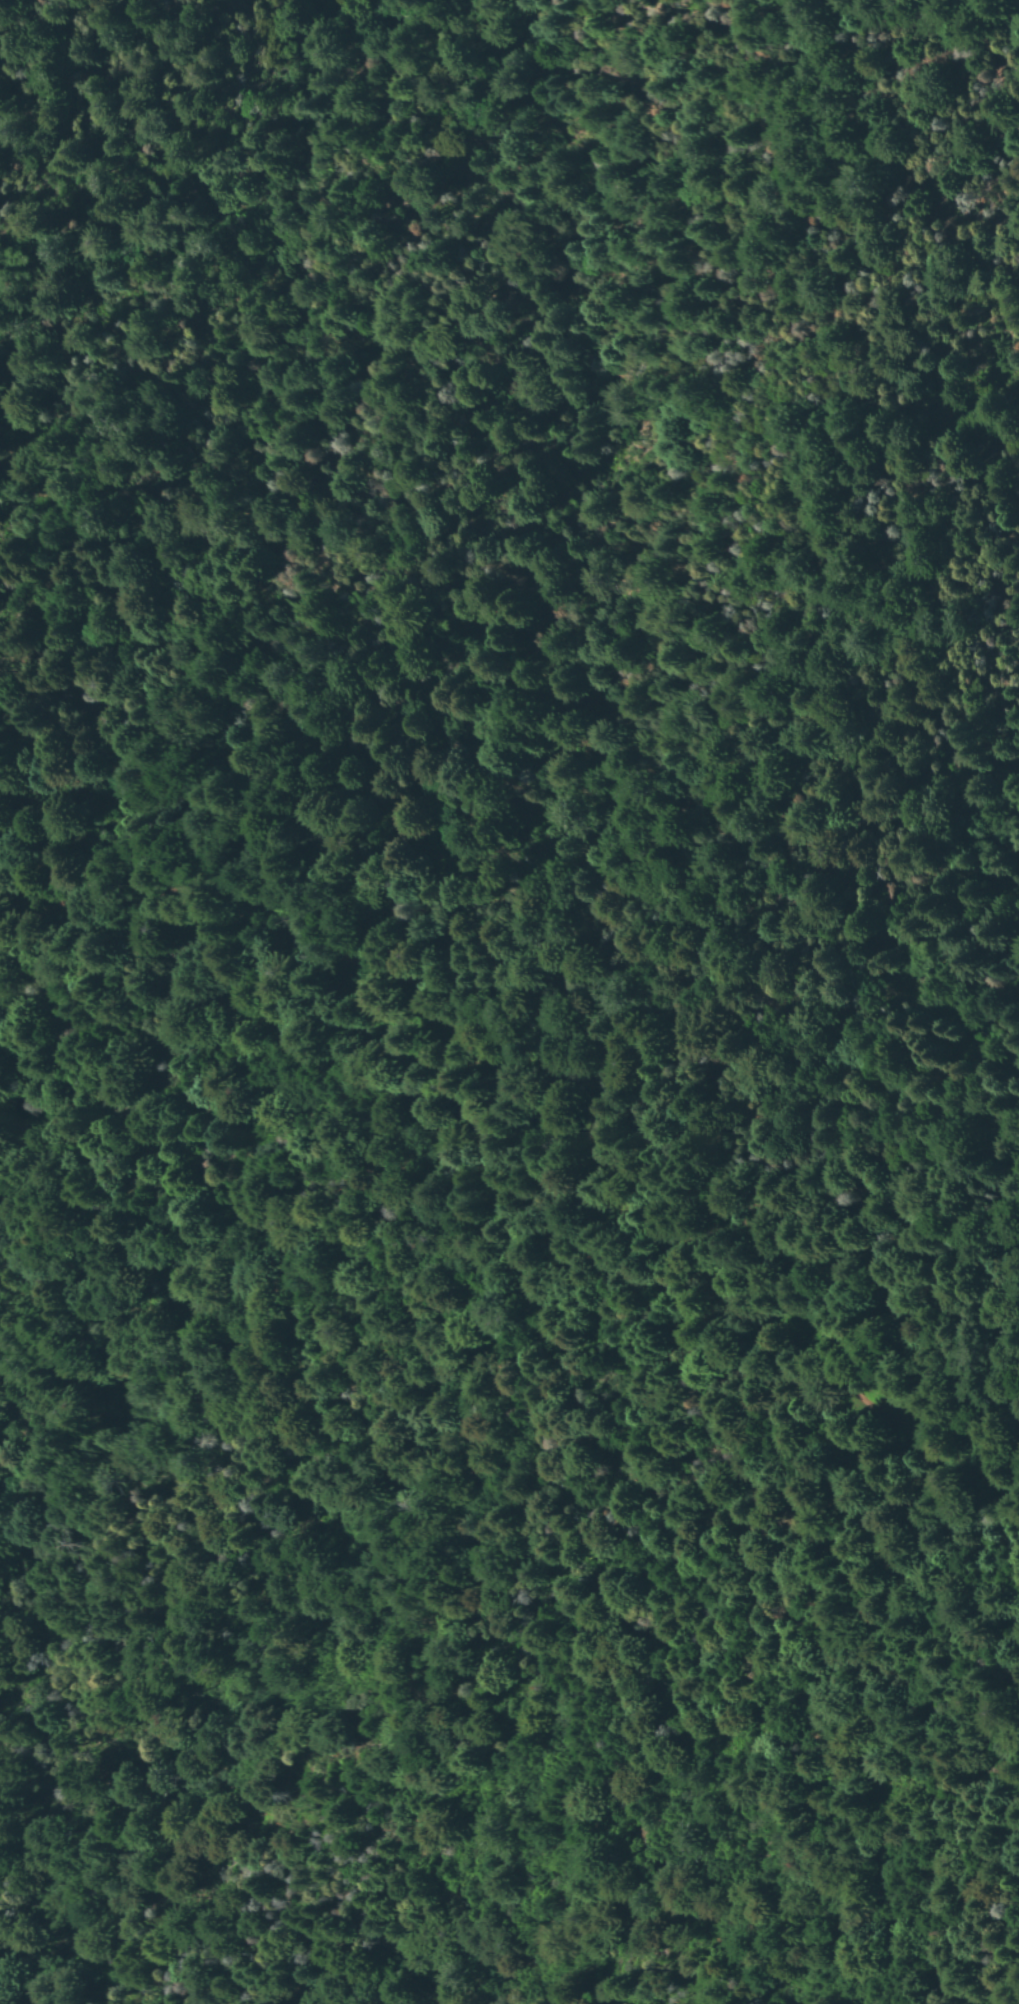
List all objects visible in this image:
road: (545, 1116)

